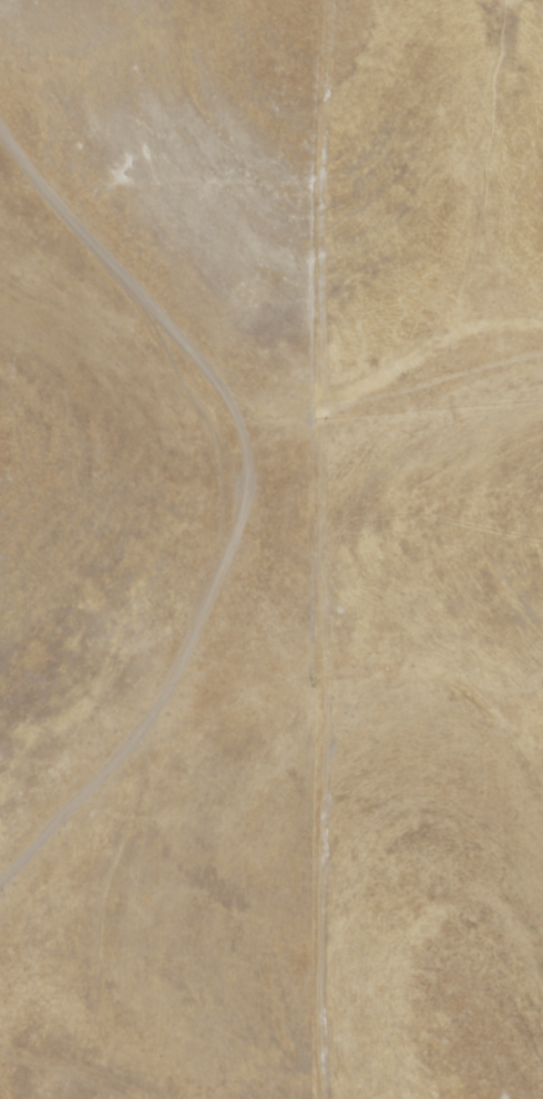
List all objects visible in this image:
road: (242, 512)

